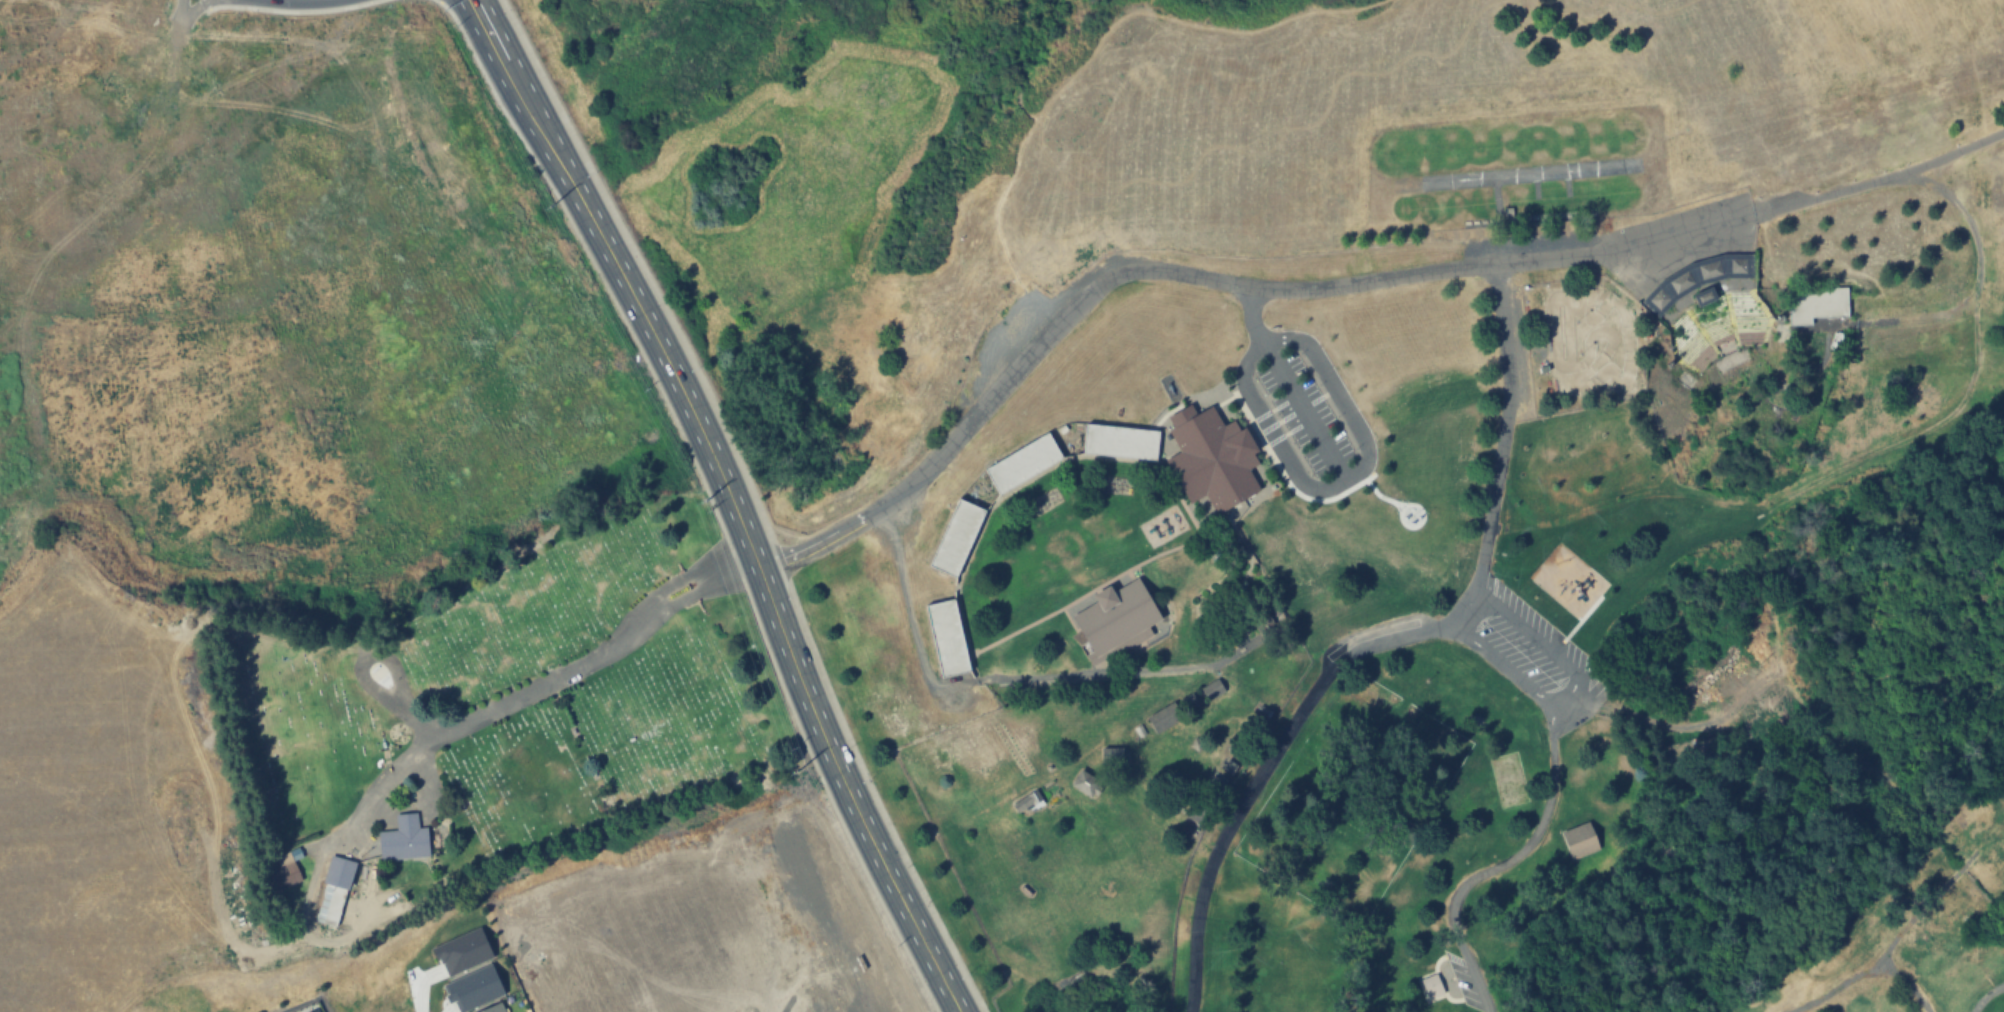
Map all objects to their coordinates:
road: (1089, 57)
road: (1011, 61)
road: (1878, 178)
park: (1505, 186)
power tower: (551, 208)
road: (1203, 277)
building: (1712, 302)
building: (1814, 303)
park: (1581, 341)
road: (1301, 409)
parking lot: (1303, 413)
building: (1119, 441)
road: (1500, 446)
building: (1210, 457)
building: (1023, 463)
road: (1848, 464)
park: (1358, 474)
road: (1313, 487)
power tower: (704, 499)
road: (734, 500)
road: (756, 501)
building: (958, 538)
building: (1116, 620)
road: (1435, 630)
building: (947, 638)
parking lot: (1533, 651)
road: (602, 654)
road: (398, 686)
building: (1213, 690)
building: (1162, 719)
park: (471, 730)
building: (1113, 756)
power tower: (796, 770)
building: (1086, 784)
building: (1026, 802)
building: (404, 839)
building: (1579, 840)
building: (285, 871)
building: (334, 890)
building: (1430, 986)

